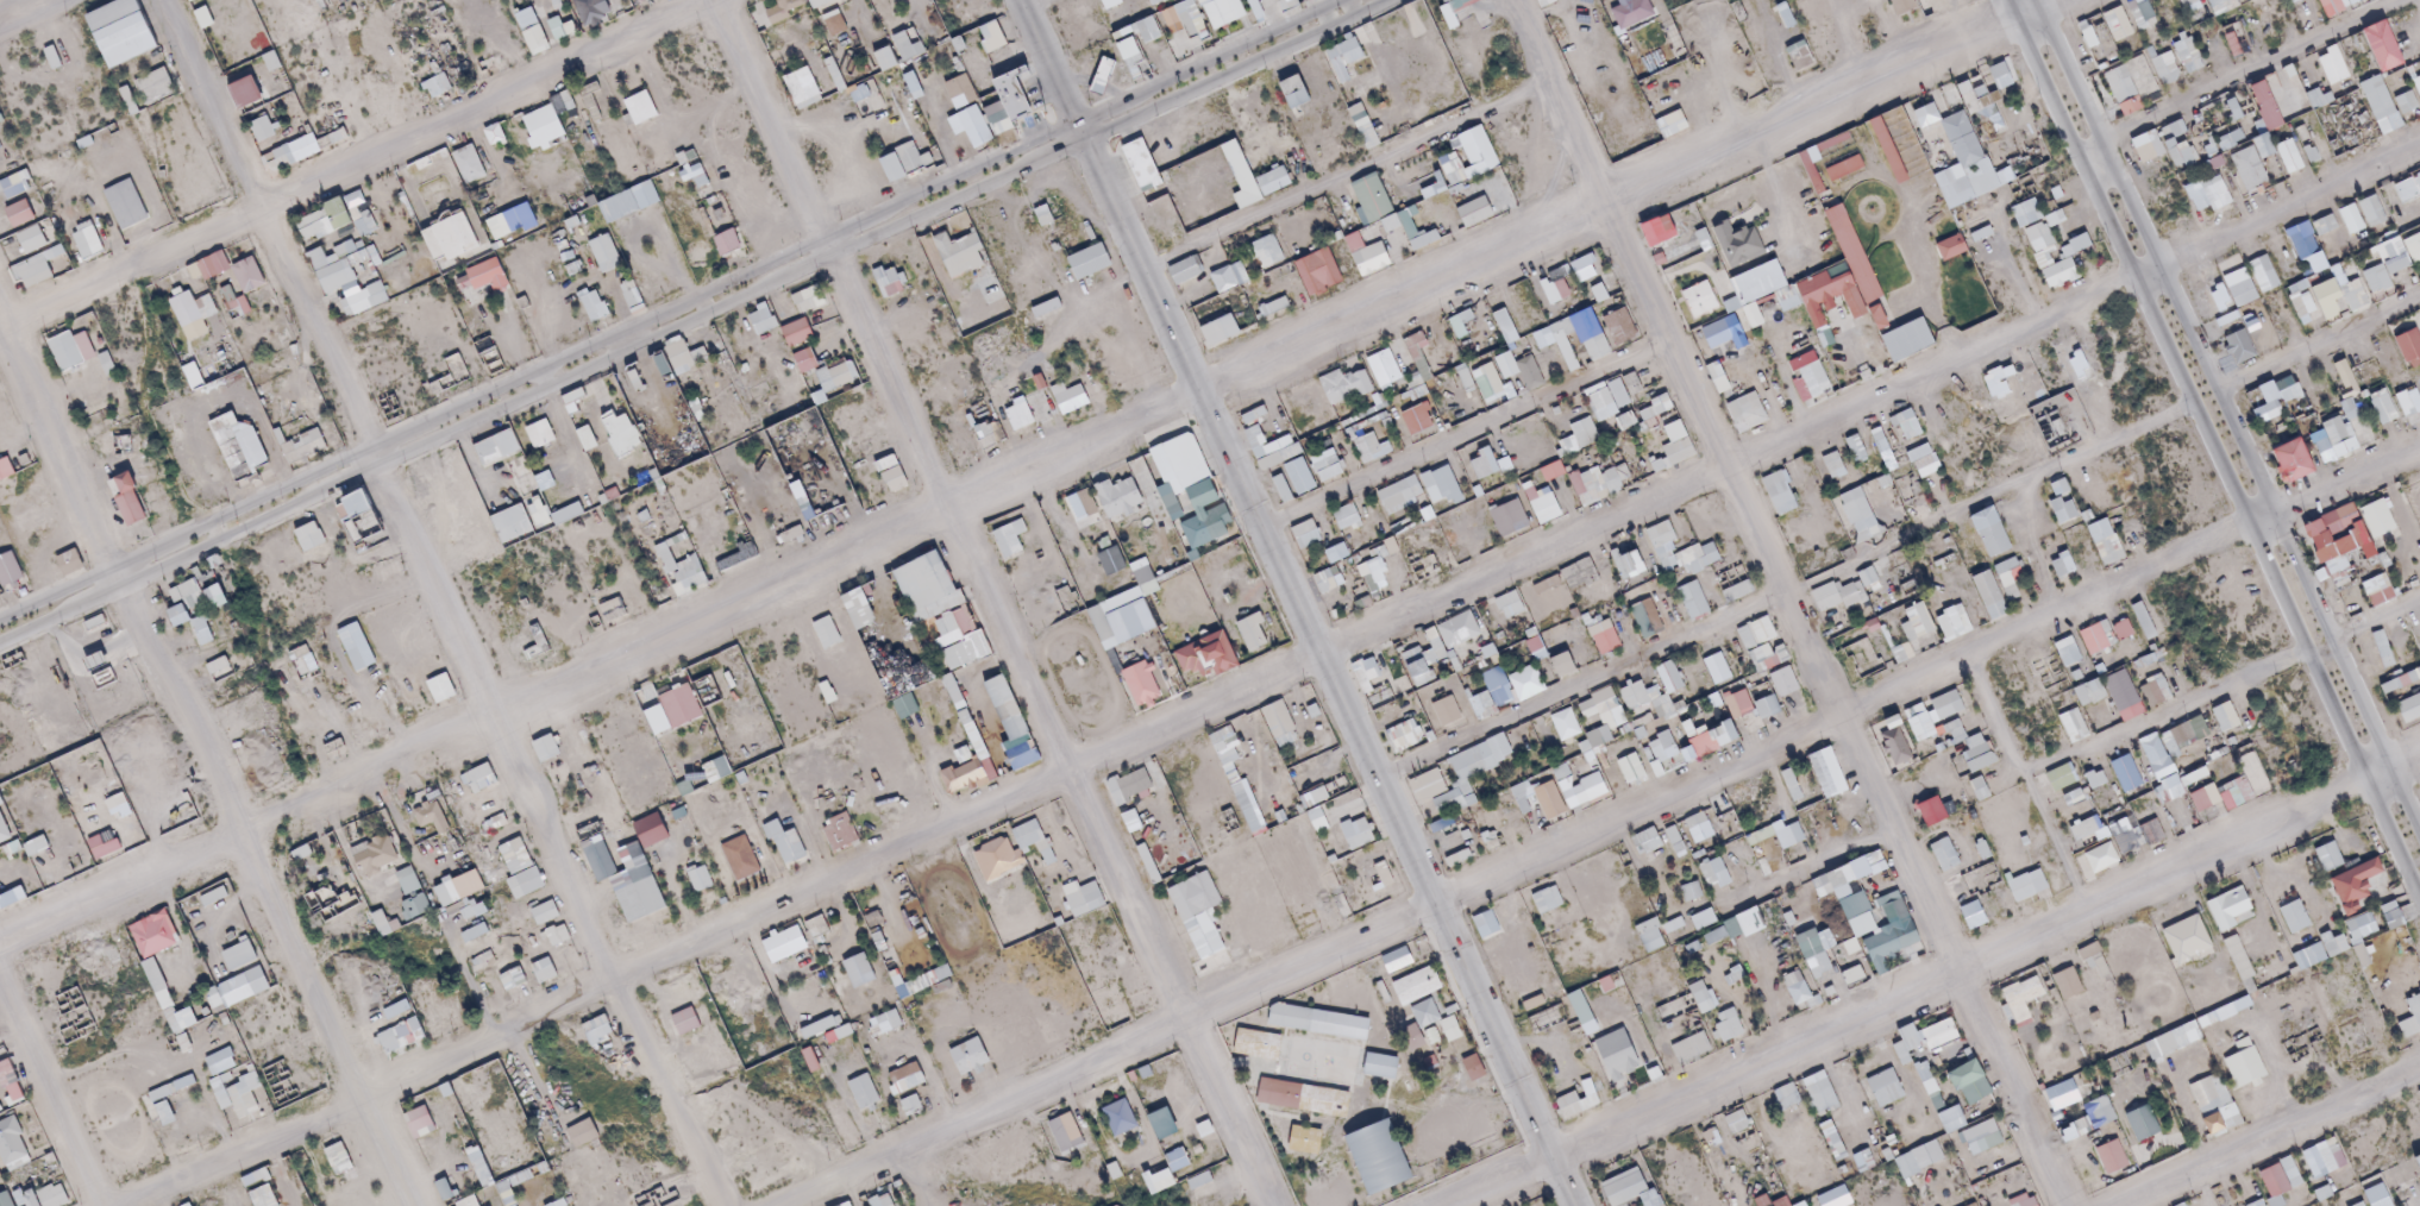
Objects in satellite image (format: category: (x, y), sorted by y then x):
road: (1021, 473)
park: (1384, 1151)

